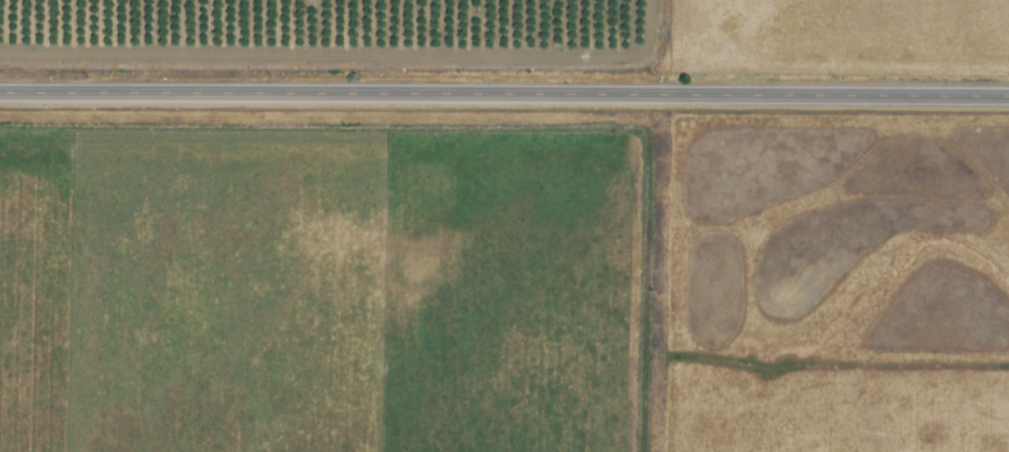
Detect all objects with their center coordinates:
road: (504, 82)

